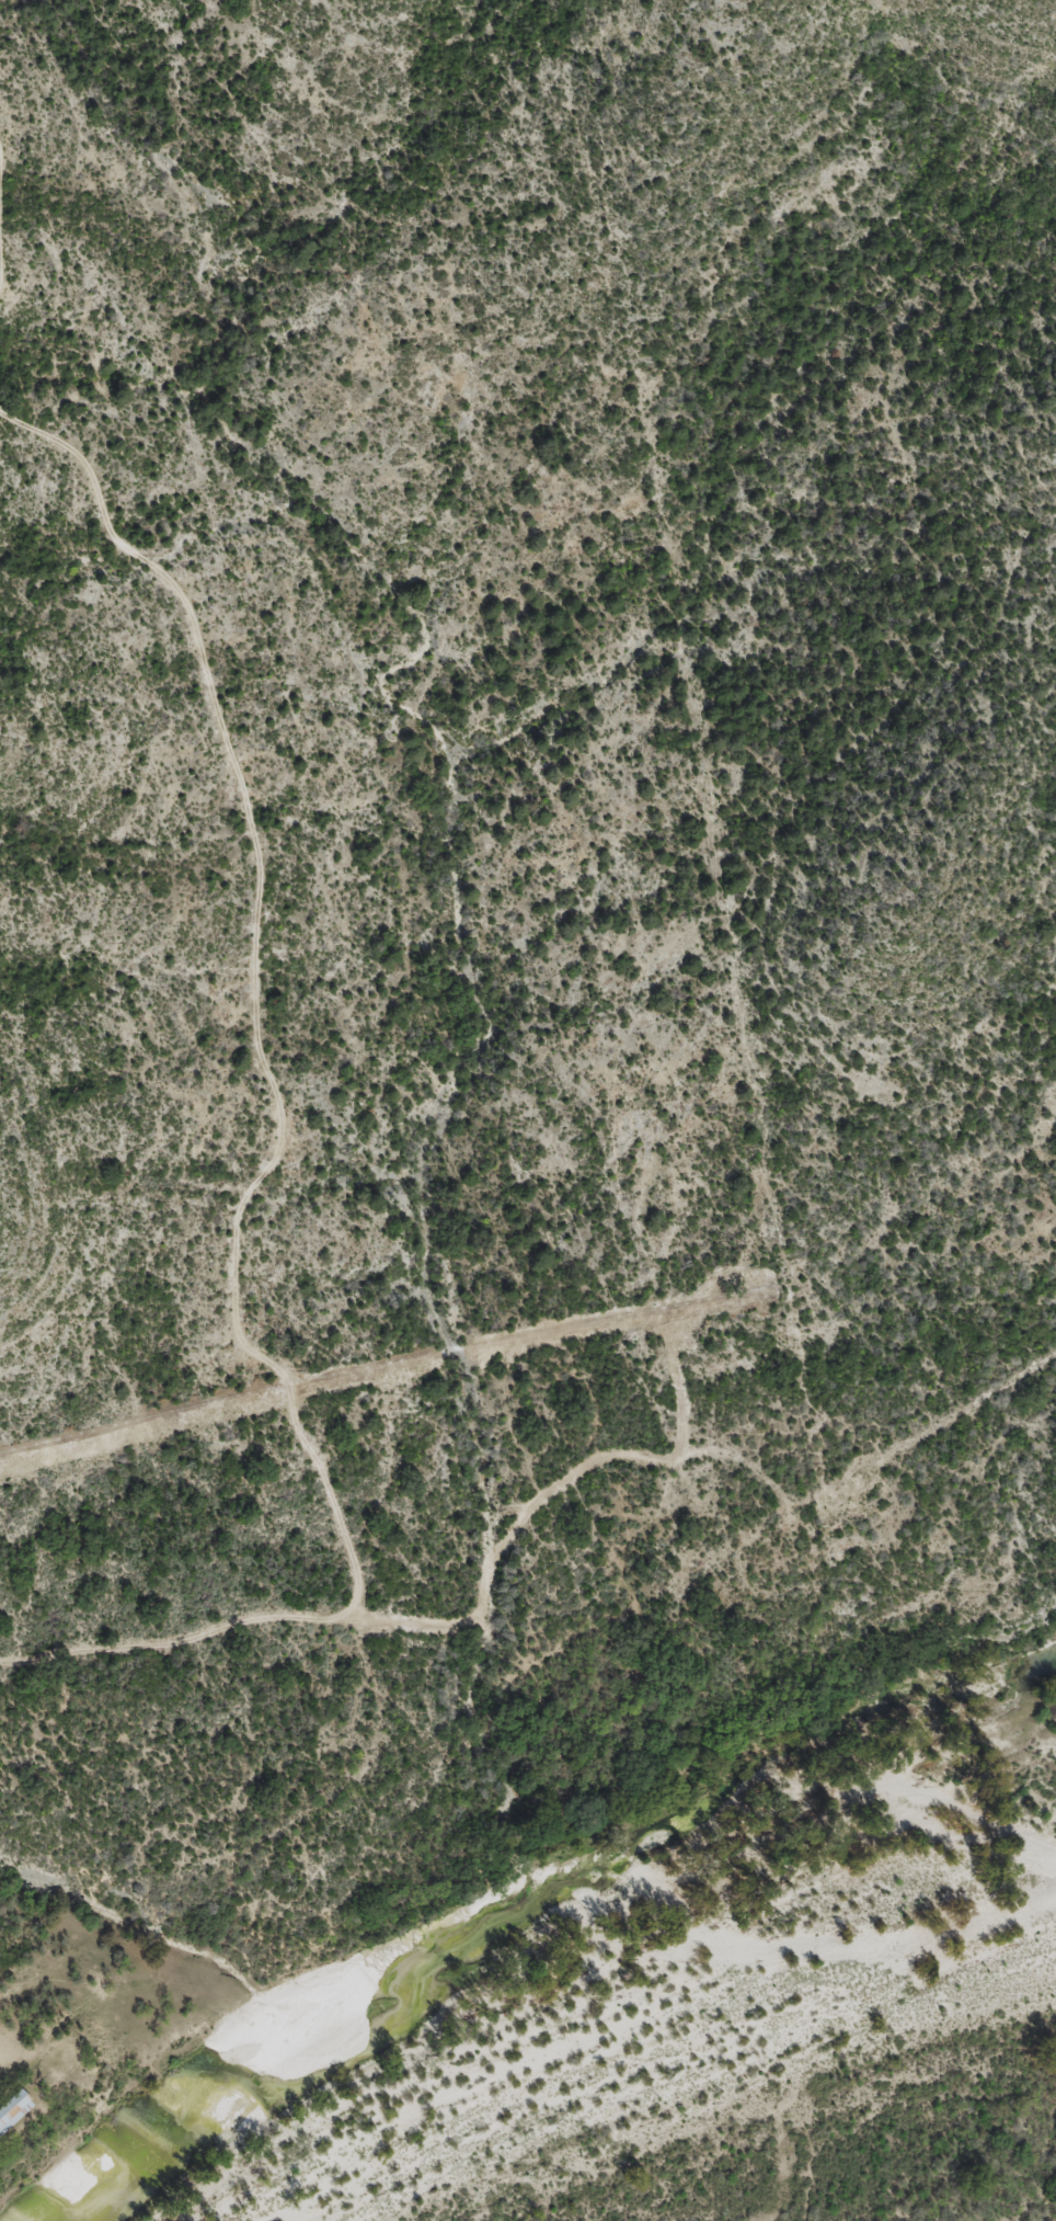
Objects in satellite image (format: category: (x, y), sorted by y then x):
road: (3, 191)
road: (252, 994)
road: (528, 1518)
building: (12, 2110)

